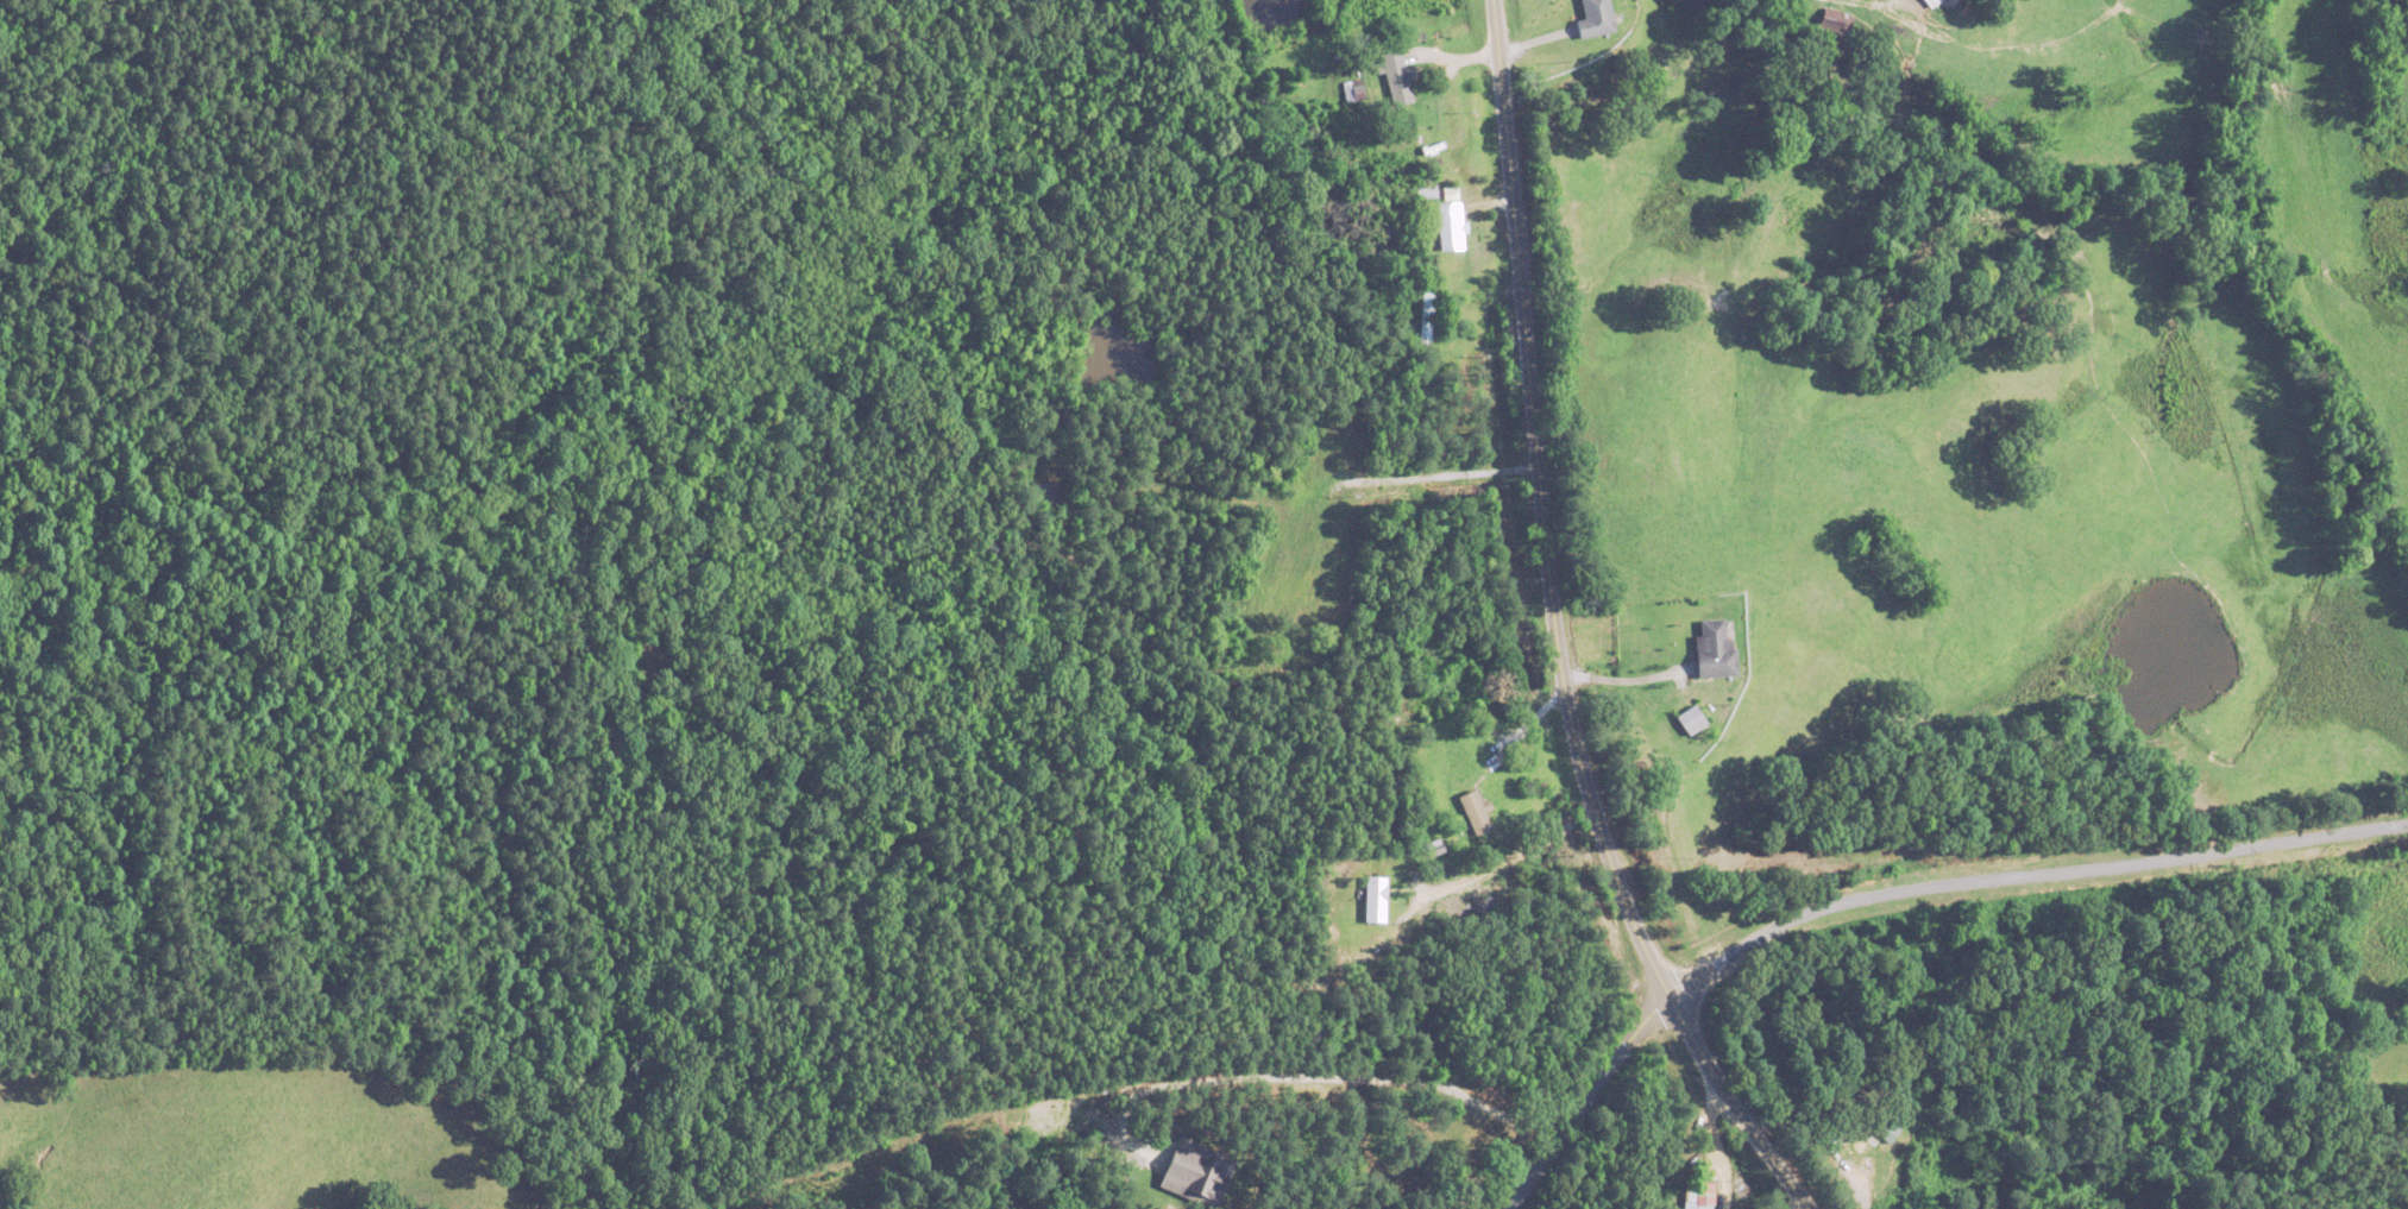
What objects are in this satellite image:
building: (1932, 2)
building: (1597, 18)
building: (1397, 76)
building: (1352, 89)
building: (1426, 191)
building: (1451, 226)
building: (1425, 317)
road: (1401, 476)
road: (1561, 631)
building: (1716, 648)
road: (1623, 676)
building: (1692, 718)
road: (1529, 724)
building: (1476, 812)
road: (1515, 867)
road: (2023, 877)
building: (1376, 898)
road: (1303, 1081)
road: (1580, 1101)
building: (1882, 1122)
road: (1710, 1147)
building: (1702, 1196)
road: (1792, 1201)

